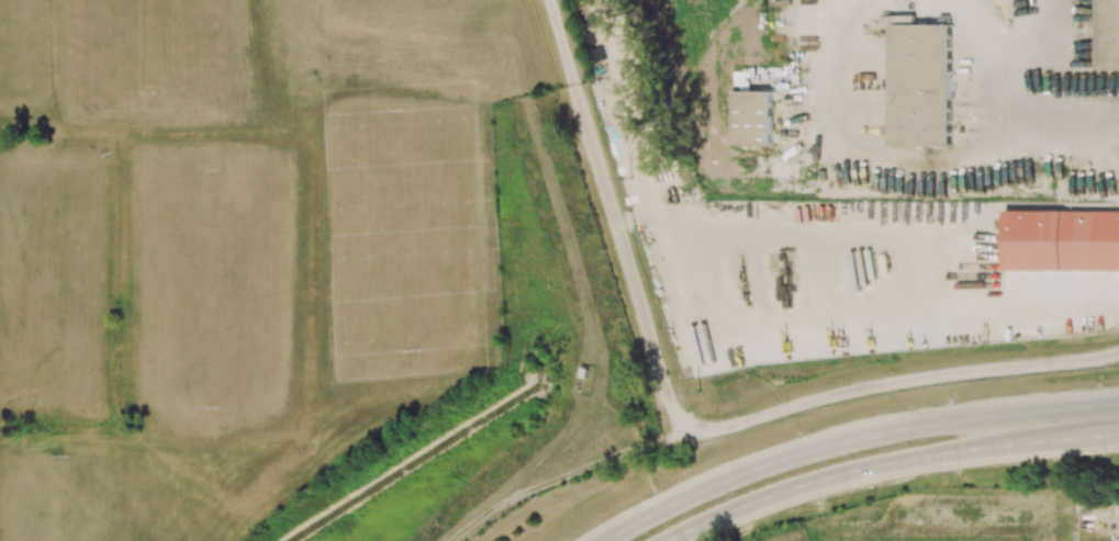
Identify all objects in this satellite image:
building: (1108, 34)
road: (561, 43)
park: (150, 46)
park: (14, 47)
building: (920, 84)
building: (752, 117)
road: (914, 168)
power tower: (630, 177)
park: (406, 227)
park: (43, 278)
park: (213, 289)
building: (586, 373)
street lamp: (1097, 384)
power tower: (700, 390)
street lamp: (949, 401)
road: (1034, 412)
road: (724, 428)
street lamp: (797, 432)
road: (1109, 433)
road: (1070, 437)
road: (997, 446)
road: (557, 447)
street lamp: (1104, 455)
road: (771, 462)
road: (593, 464)
street lamp: (958, 472)
road: (805, 483)
street lamp: (653, 491)
park: (63, 498)
street lamp: (818, 500)
road: (1115, 514)
road: (477, 521)
building: (823, 537)
building: (1117, 540)

